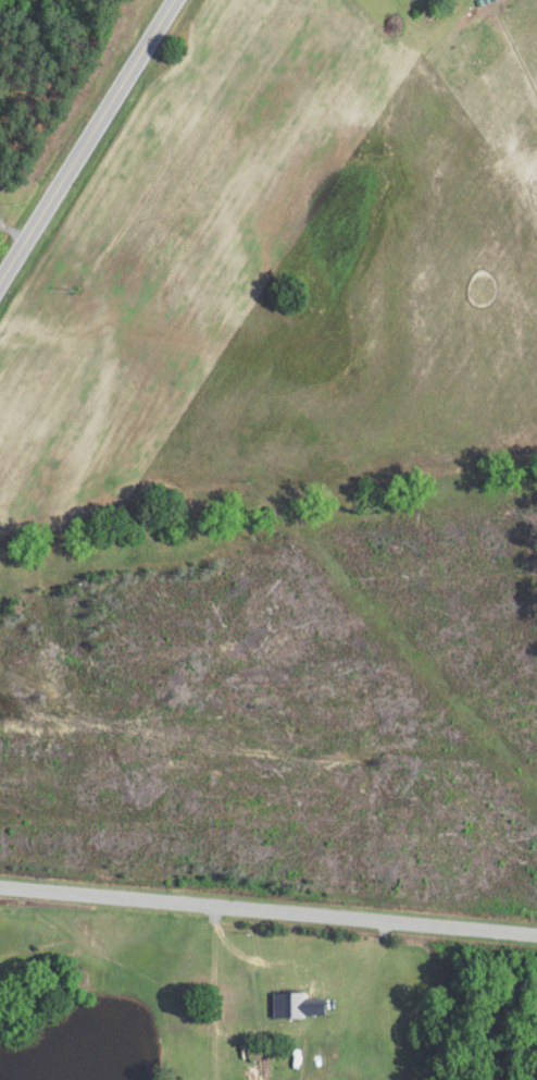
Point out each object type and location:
road: (88, 144)
road: (267, 910)
building: (260, 1069)

